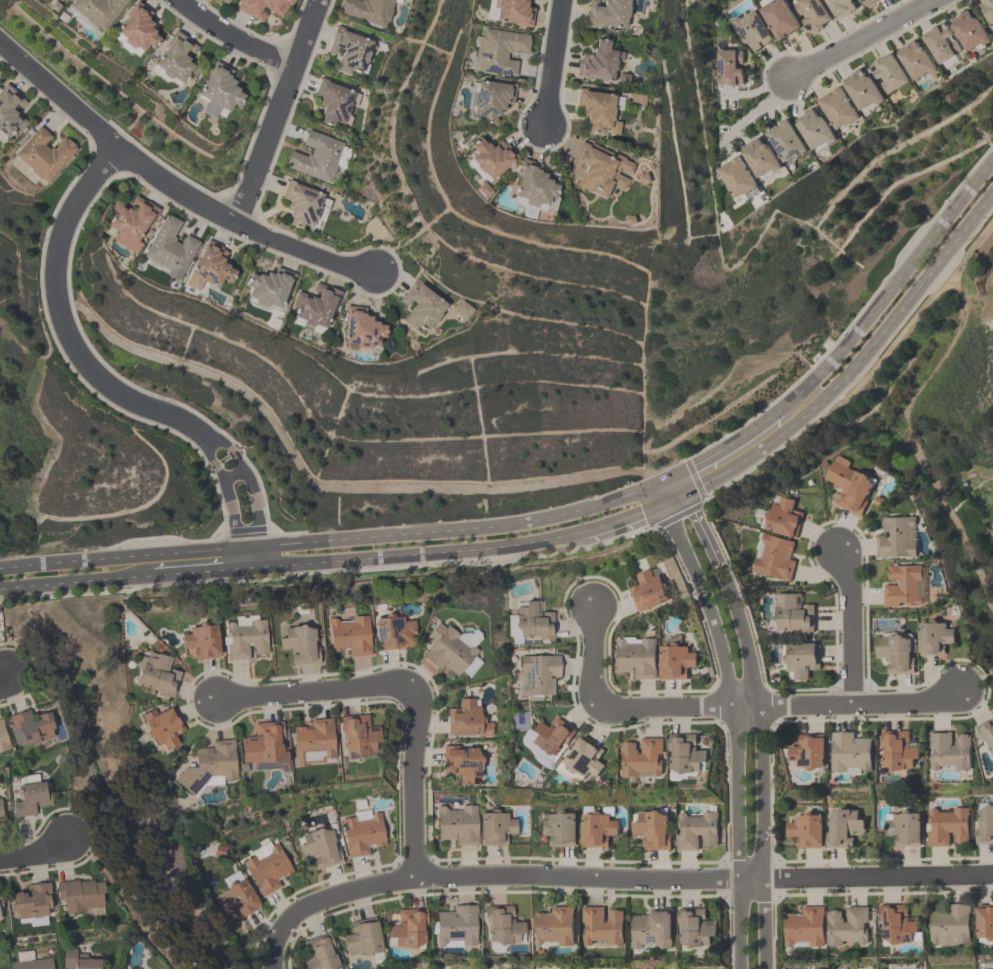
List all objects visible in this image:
building: (61, 0)
building: (866, 1)
building: (226, 2)
building: (840, 6)
building: (264, 8)
building: (368, 10)
building: (987, 10)
building: (513, 12)
building: (99, 13)
building: (606, 13)
building: (812, 13)
building: (778, 17)
building: (749, 29)
building: (969, 30)
building: (139, 32)
road: (233, 39)
road: (858, 39)
building: (940, 42)
building: (499, 50)
building: (648, 51)
building: (352, 52)
building: (914, 59)
building: (178, 61)
building: (598, 62)
road: (552, 63)
building: (728, 66)
building: (888, 72)
building: (622, 78)
building: (861, 89)
building: (221, 92)
building: (489, 99)
building: (633, 100)
building: (336, 104)
building: (837, 108)
road: (757, 110)
building: (597, 111)
road: (277, 112)
building: (11, 113)
building: (813, 129)
building: (785, 140)
building: (46, 155)
building: (489, 157)
building: (758, 157)
building: (318, 159)
building: (599, 168)
building: (644, 178)
building: (736, 178)
building: (532, 184)
road: (174, 185)
building: (482, 189)
building: (304, 206)
building: (131, 225)
building: (171, 250)
building: (215, 268)
road: (890, 289)
building: (269, 290)
building: (315, 309)
building: (423, 310)
building: (464, 312)
building: (360, 332)
road: (853, 368)
road: (102, 380)
road: (723, 447)
building: (847, 484)
road: (324, 488)
road: (670, 489)
building: (877, 500)
road: (629, 516)
building: (782, 517)
road: (702, 529)
building: (895, 537)
road: (335, 542)
road: (417, 555)
building: (774, 557)
road: (201, 573)
road: (76, 584)
building: (902, 586)
building: (647, 590)
building: (792, 612)
building: (532, 622)
road: (851, 625)
building: (395, 633)
building: (352, 635)
building: (932, 637)
building: (247, 641)
building: (203, 643)
building: (301, 646)
building: (454, 651)
building: (894, 653)
road: (595, 657)
building: (635, 657)
building: (801, 658)
building: (674, 661)
building: (537, 674)
road: (4, 677)
building: (159, 677)
road: (310, 691)
road: (779, 704)
building: (468, 722)
road: (736, 728)
building: (32, 729)
building: (165, 730)
building: (986, 733)
building: (549, 736)
building: (361, 738)
building: (4, 740)
building: (316, 742)
building: (266, 744)
building: (898, 749)
building: (949, 750)
building: (850, 751)
building: (808, 752)
building: (685, 753)
building: (642, 756)
building: (581, 760)
road: (761, 765)
building: (463, 766)
building: (210, 767)
road: (411, 781)
building: (32, 801)
building: (1, 813)
building: (458, 824)
building: (945, 825)
building: (984, 825)
building: (842, 827)
building: (558, 828)
building: (903, 828)
building: (595, 829)
building: (651, 830)
building: (695, 830)
building: (805, 830)
building: (362, 832)
building: (320, 848)
road: (33, 853)
building: (268, 868)
road: (703, 878)
building: (82, 898)
road: (322, 899)
building: (238, 900)
building: (32, 904)
building: (1, 914)
building: (984, 921)
building: (897, 924)
building: (950, 924)
building: (501, 925)
building: (601, 925)
building: (553, 926)
building: (847, 926)
building: (695, 927)
building: (804, 927)
building: (458, 928)
building: (409, 929)
building: (652, 929)
building: (365, 940)
building: (320, 954)
building: (83, 962)
building: (32, 963)
building: (984, 968)

